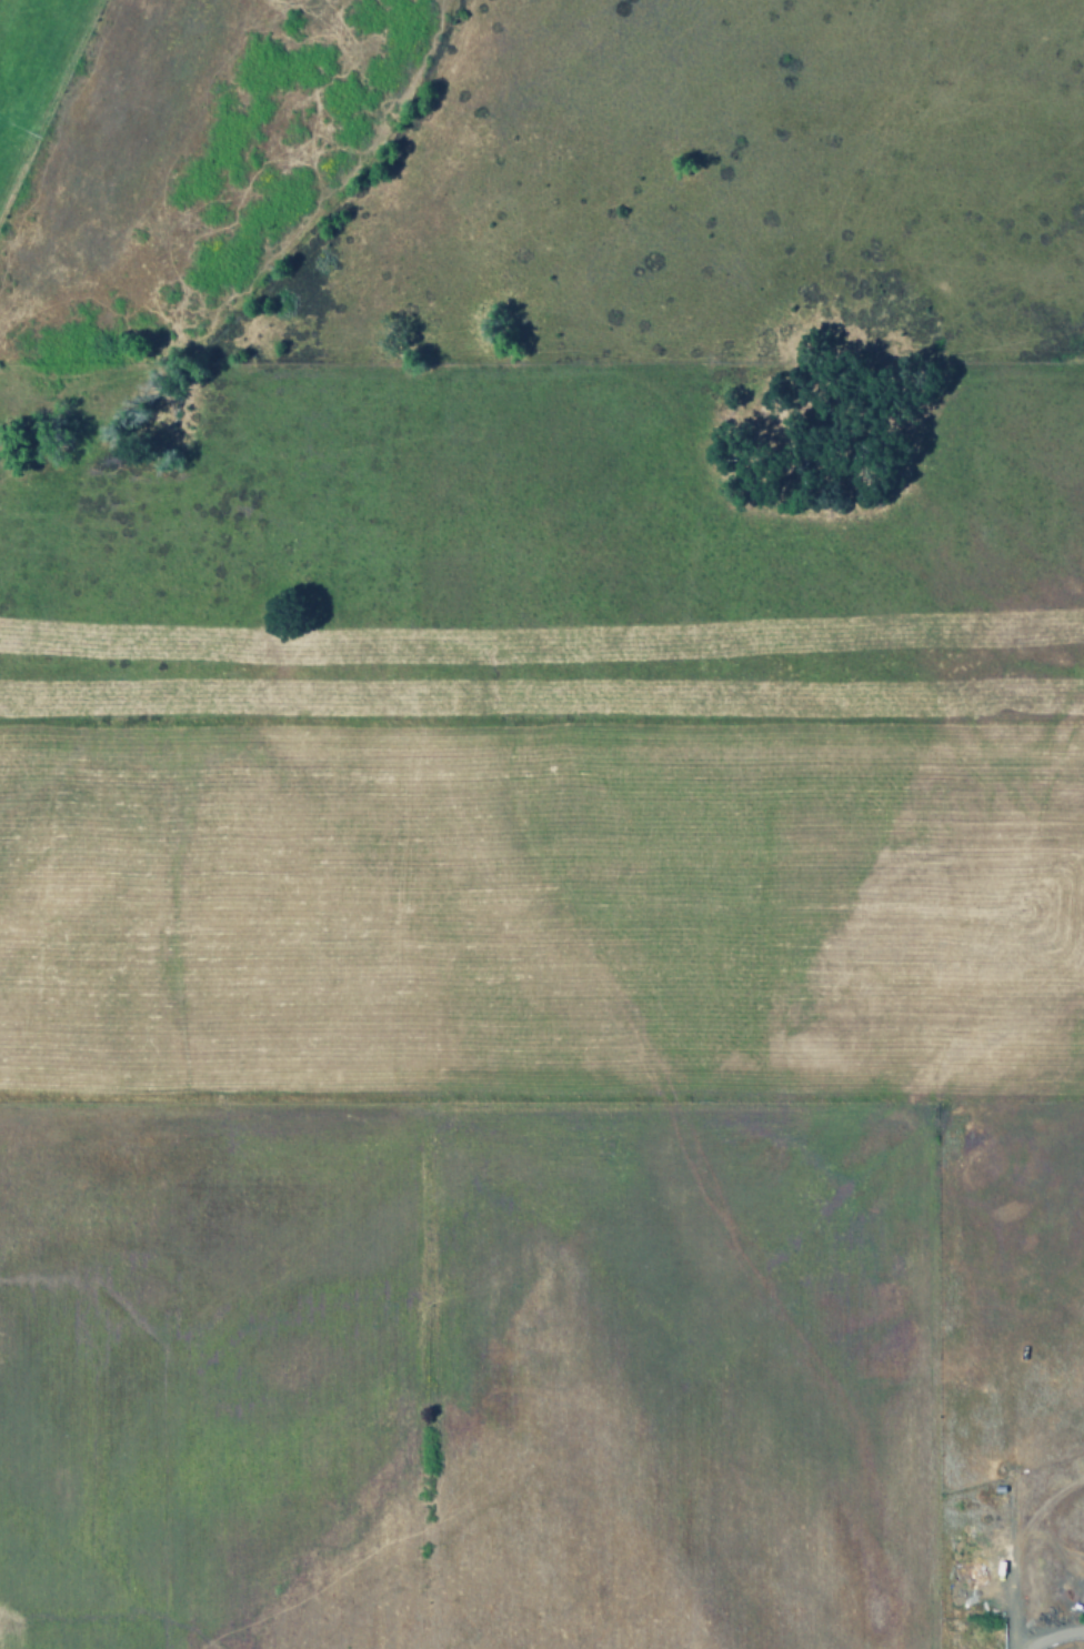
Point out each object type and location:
road: (1008, 1593)

